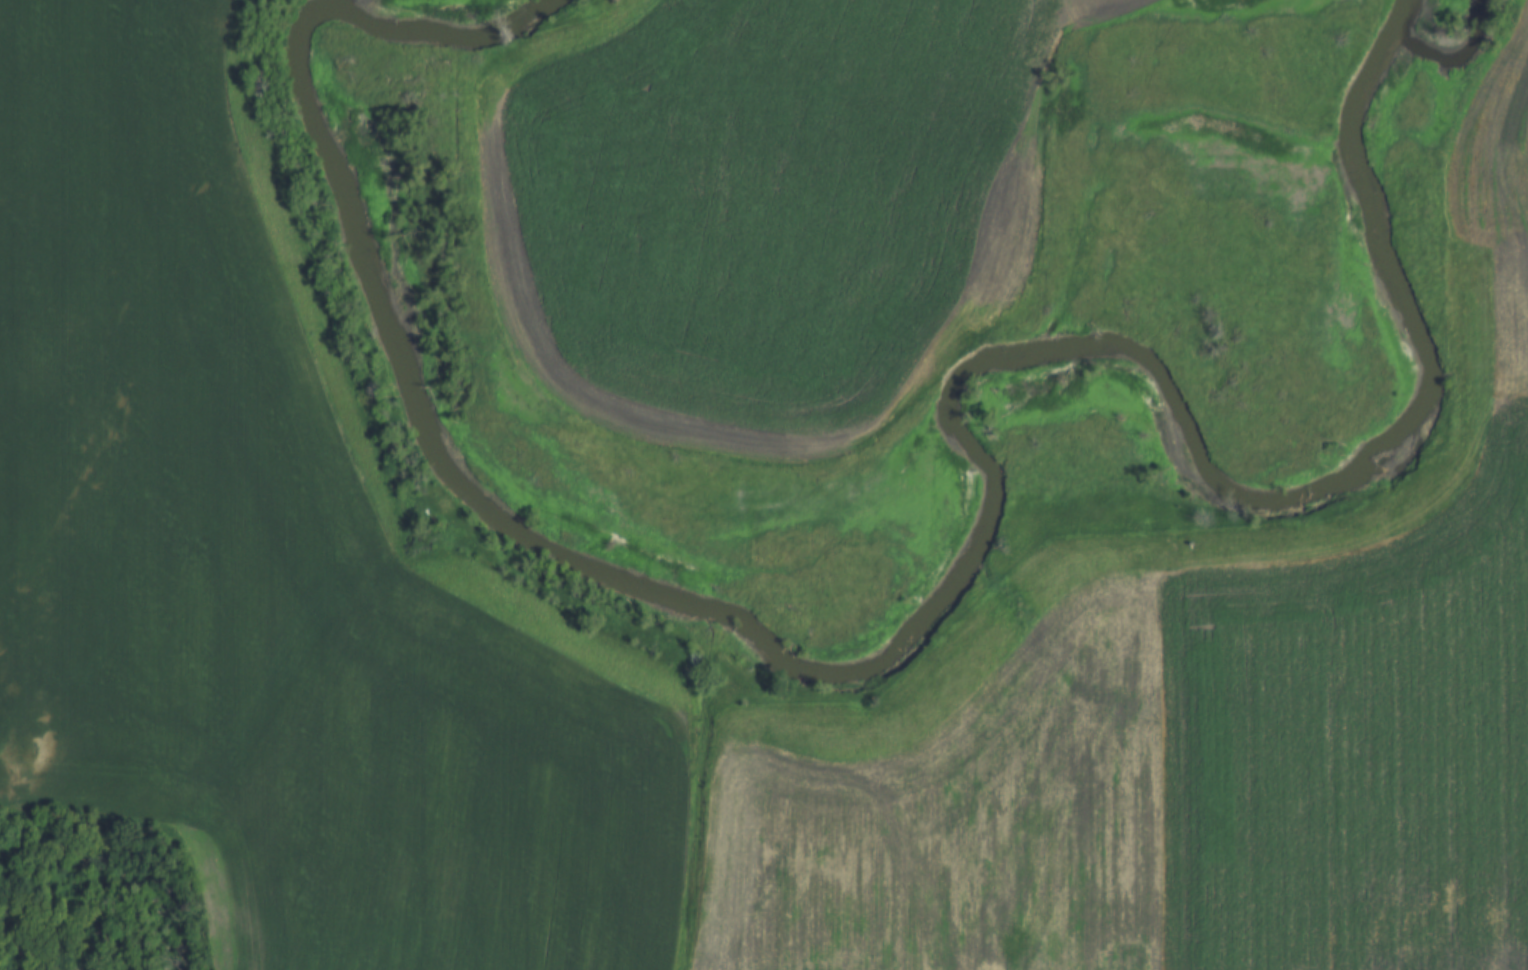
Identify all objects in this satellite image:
river: (1426, 23)
river: (885, 639)

